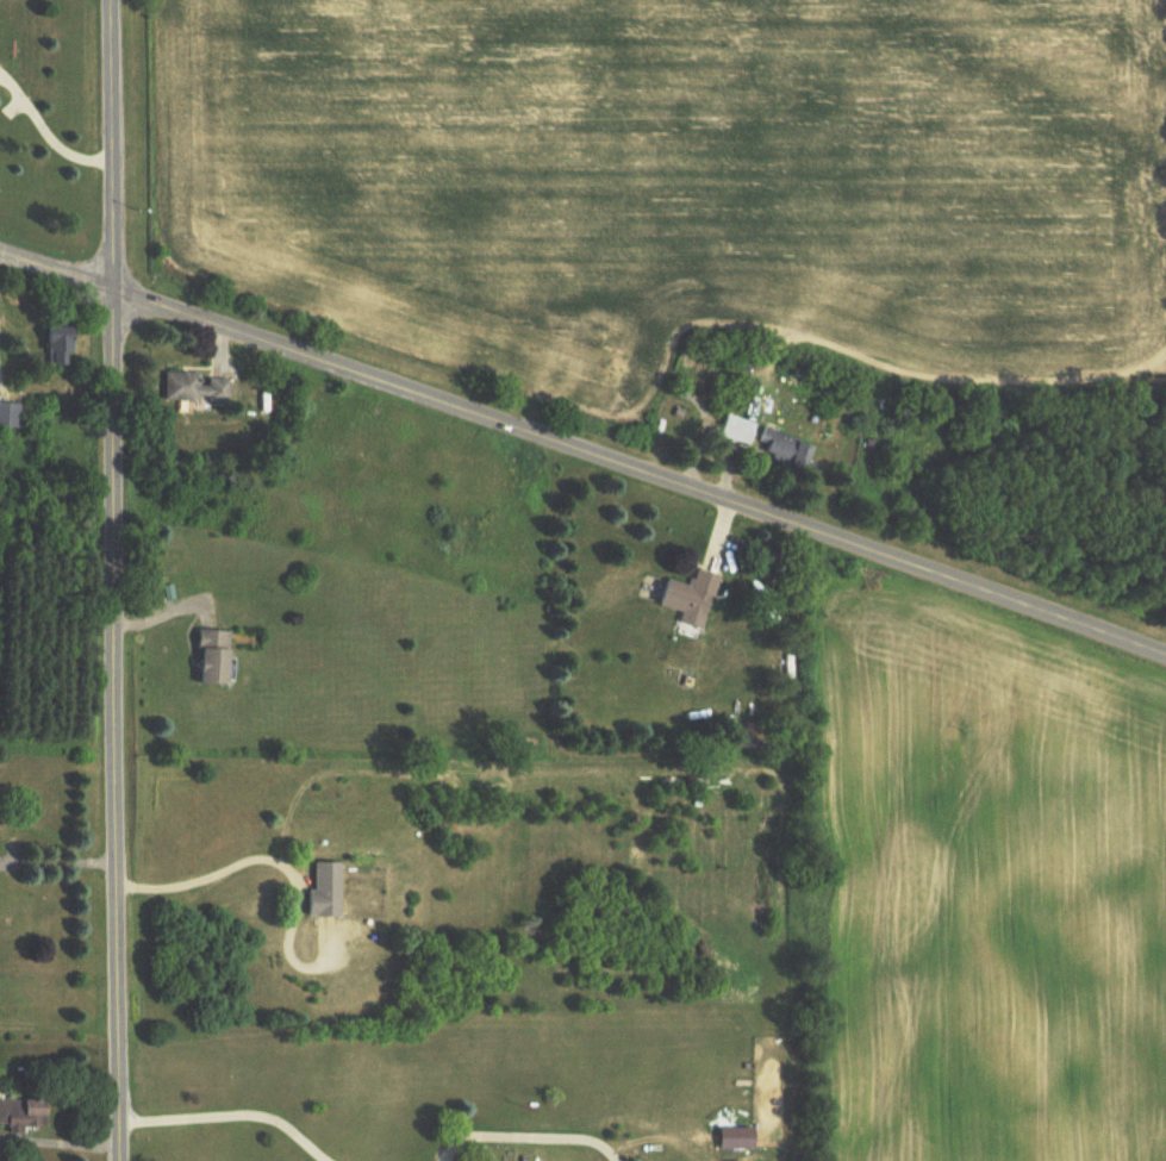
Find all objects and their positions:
road: (44, 130)
building: (62, 345)
building: (195, 388)
building: (8, 416)
building: (735, 429)
building: (781, 448)
road: (585, 449)
road: (113, 580)
building: (688, 598)
building: (217, 658)
building: (503, 792)
road: (58, 860)
road: (275, 862)
building: (323, 891)
road: (232, 1109)
building: (26, 1113)

